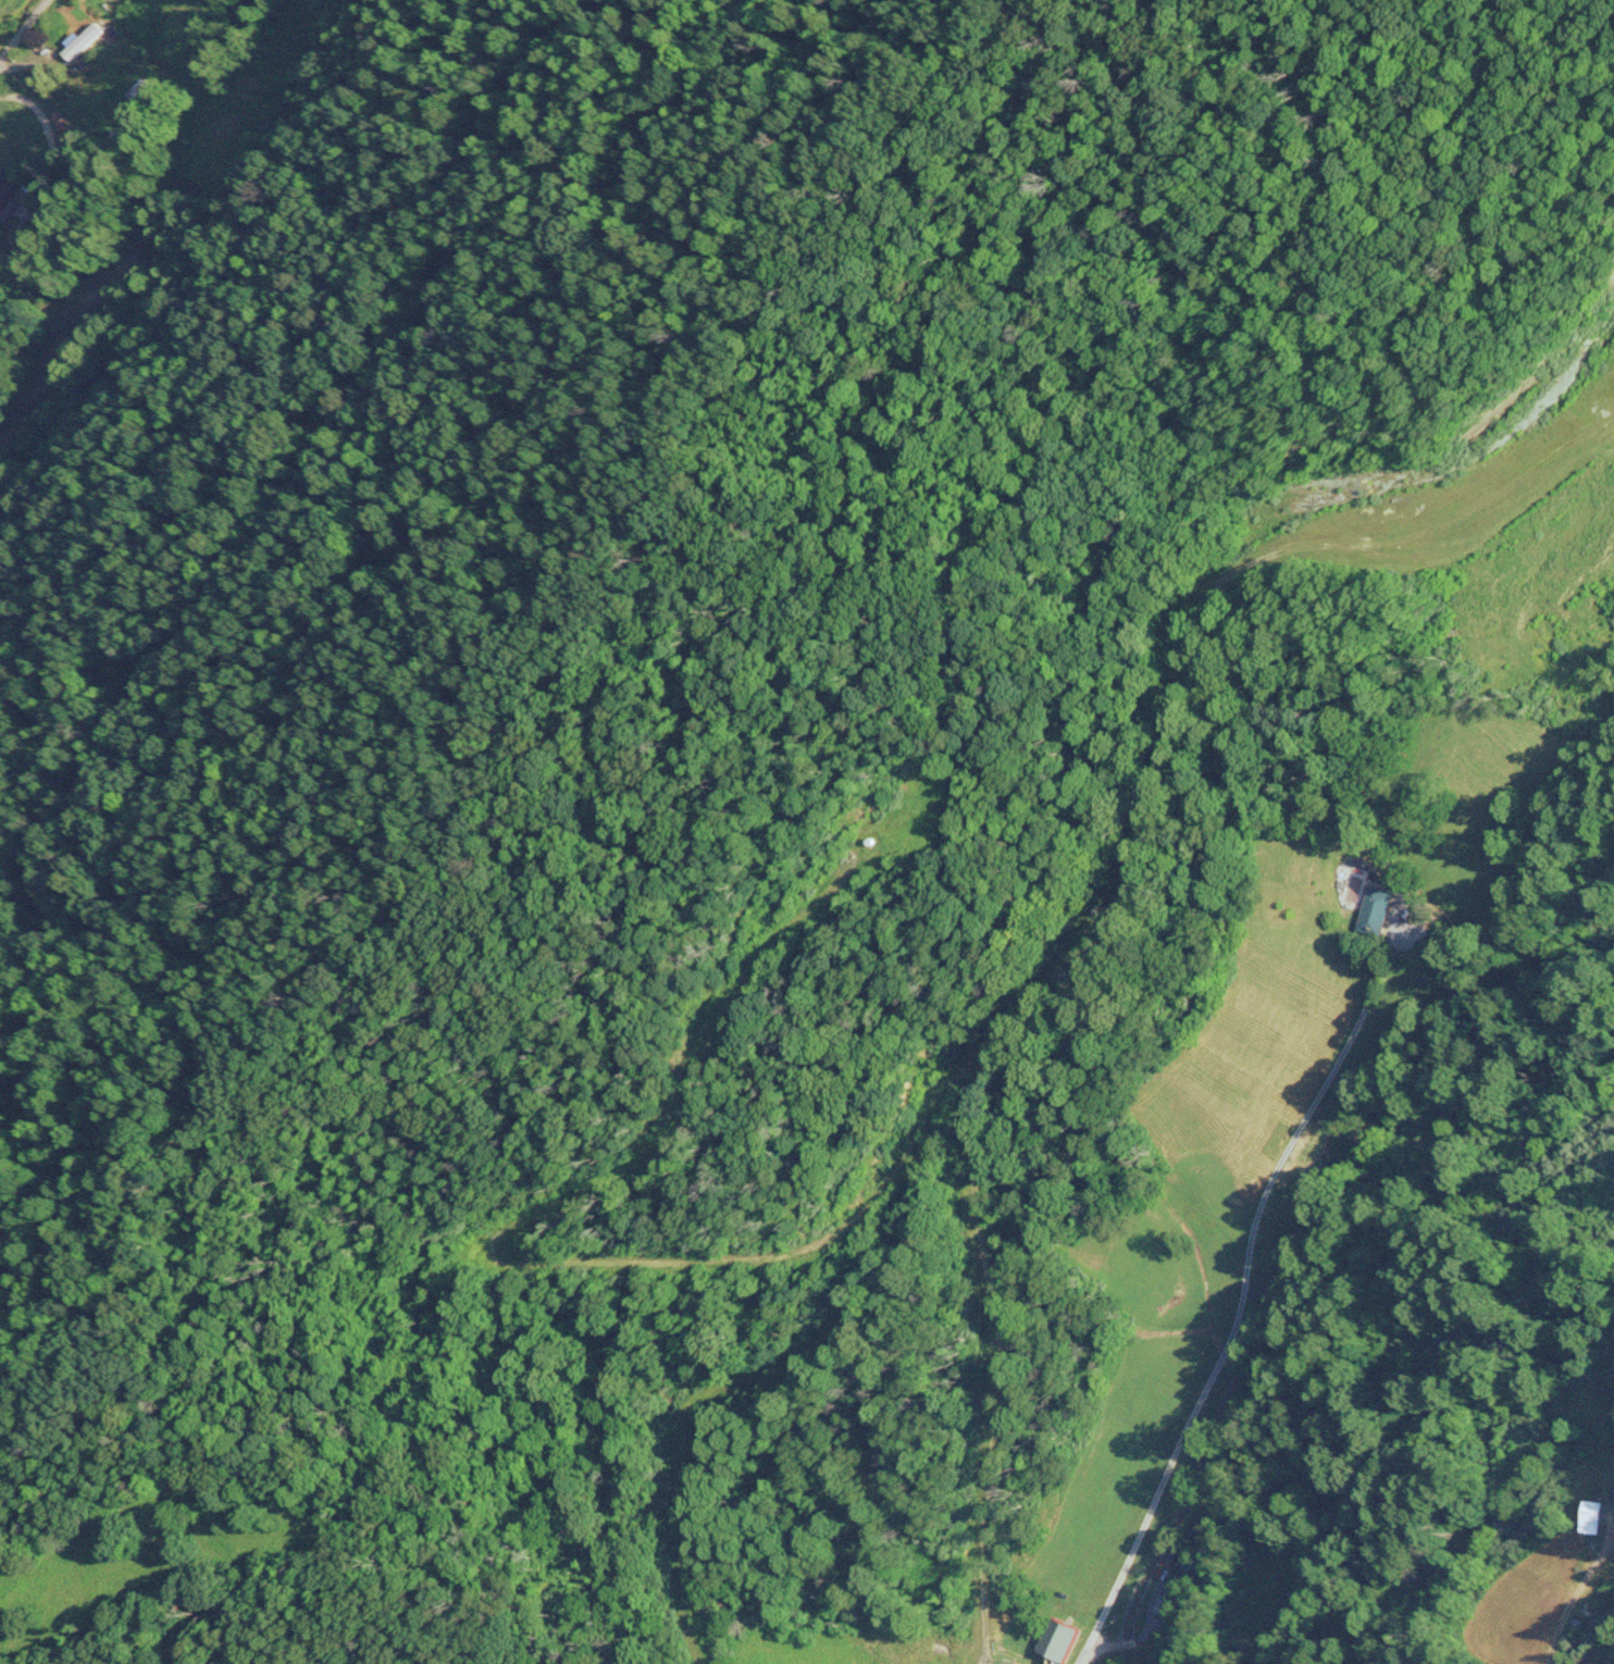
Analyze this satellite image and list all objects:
building: (82, 42)
road: (40, 57)
building: (148, 94)
building: (10, 191)
building: (1379, 910)
road: (1485, 1507)
building: (1593, 1513)
building: (1170, 1599)
building: (1060, 1641)
road: (955, 1644)

